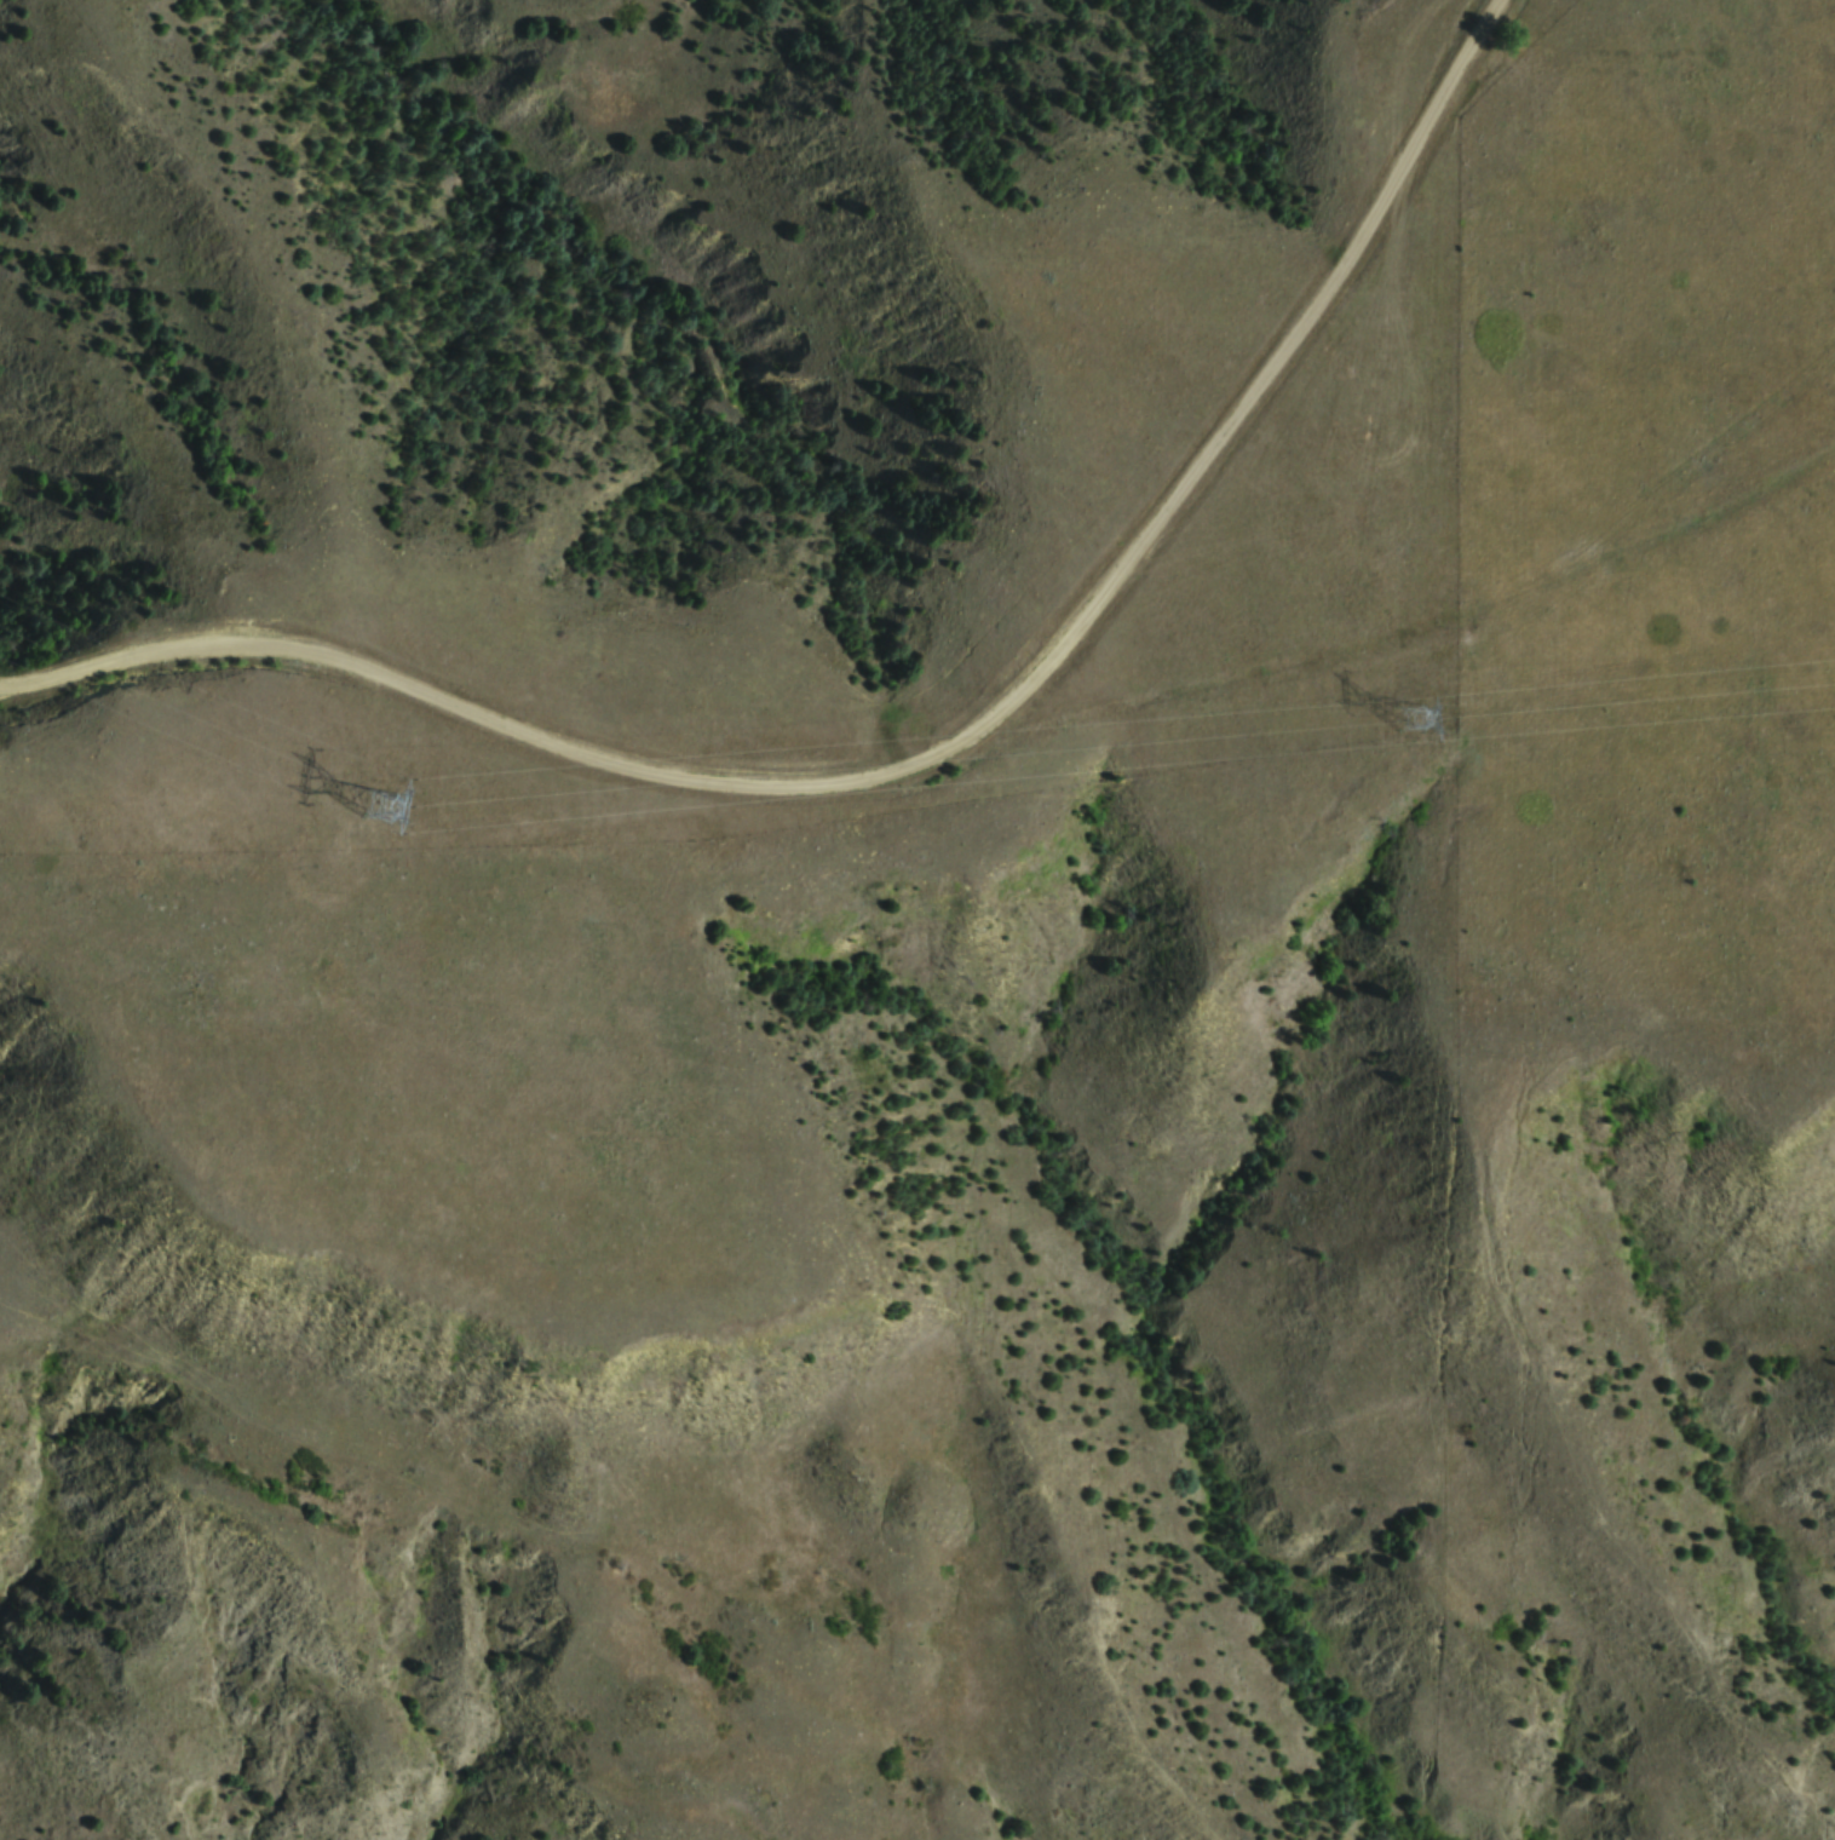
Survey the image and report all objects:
road: (921, 711)
power tower: (1413, 719)
power tower: (384, 810)

